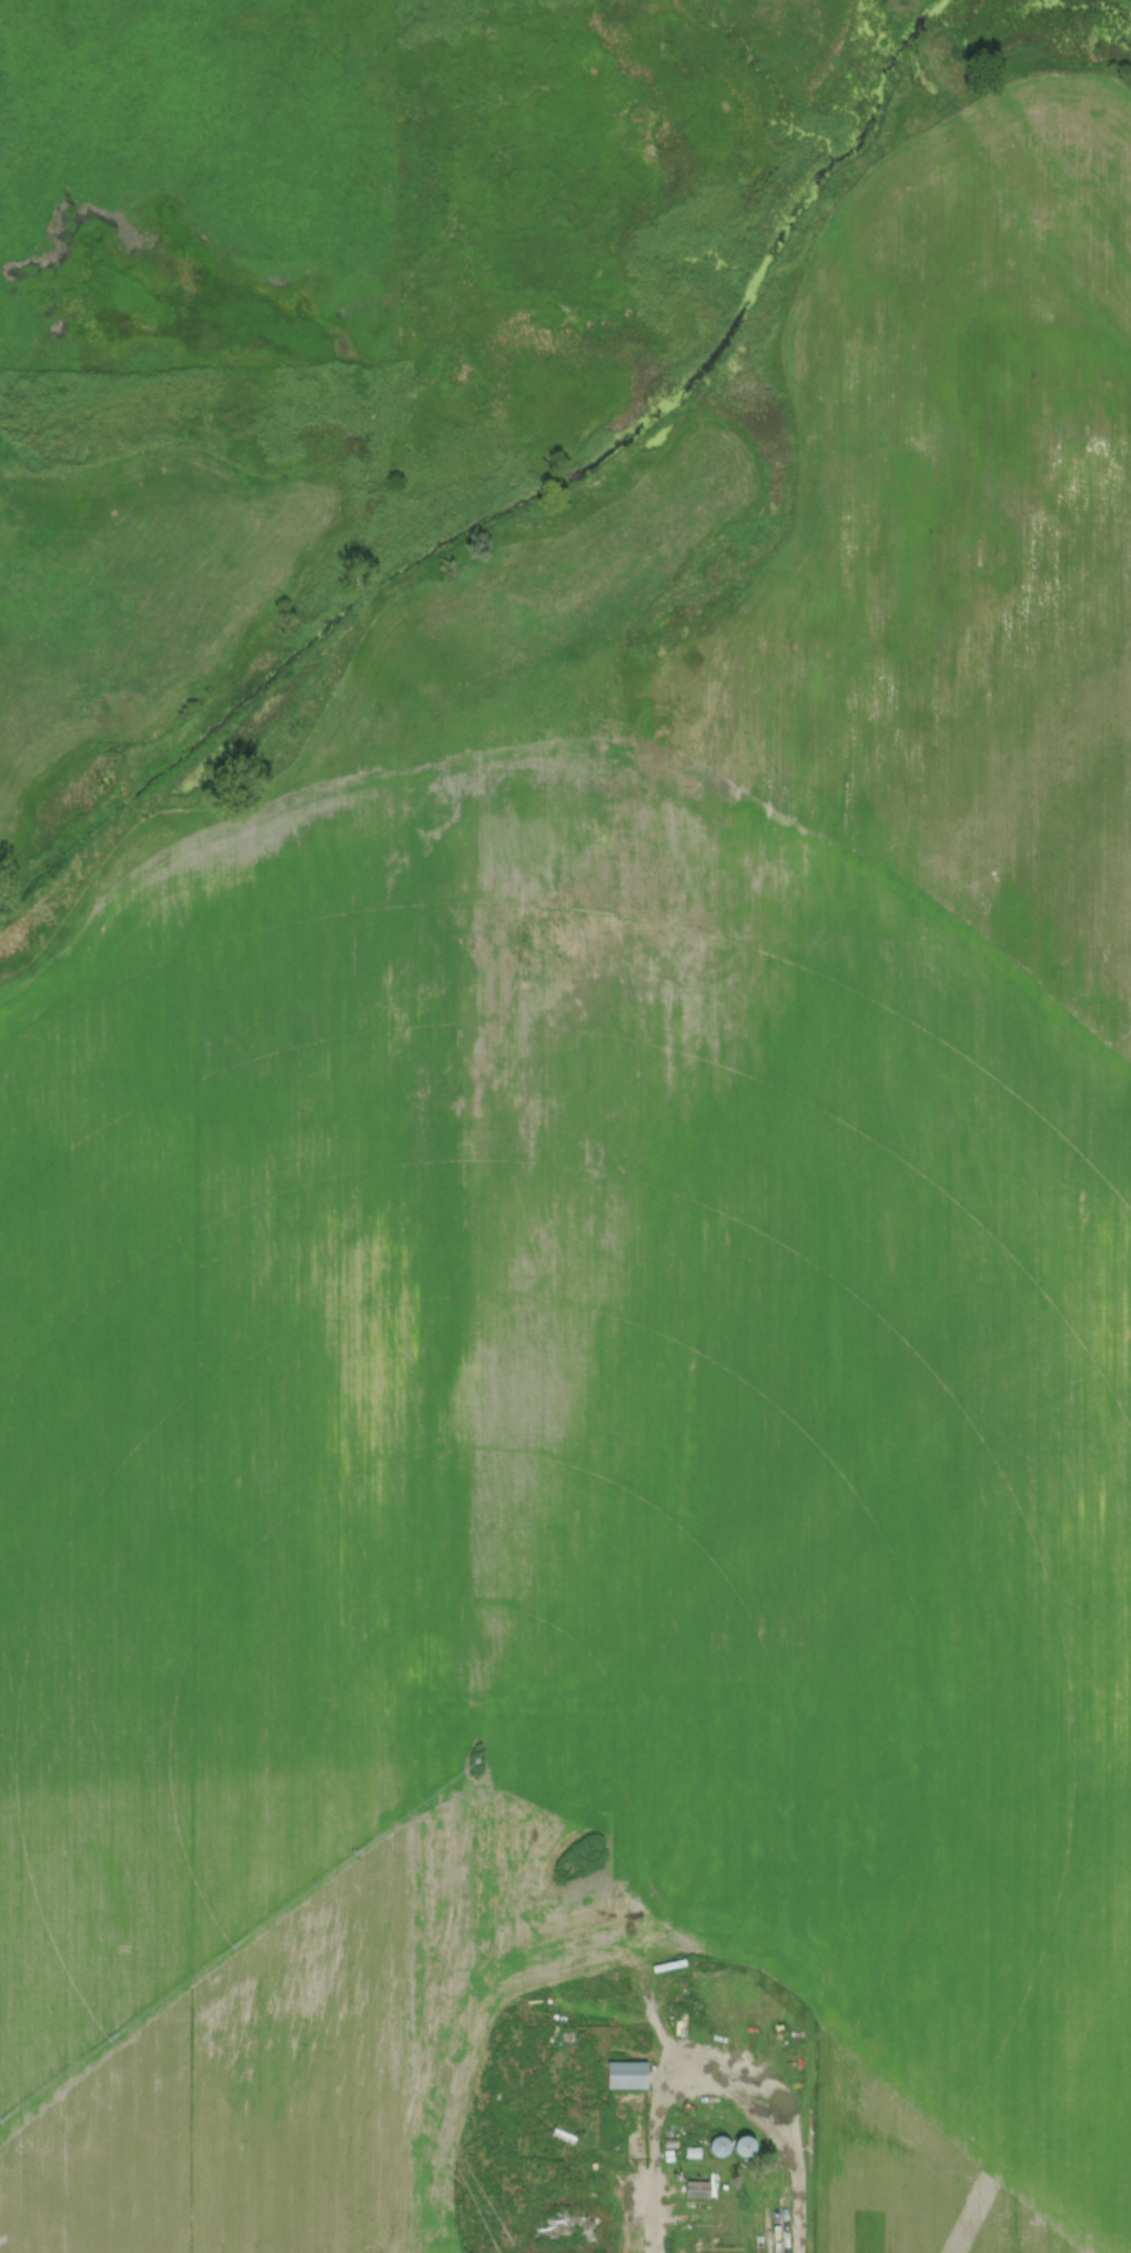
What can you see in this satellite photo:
road: (723, 2071)
building: (625, 2074)

